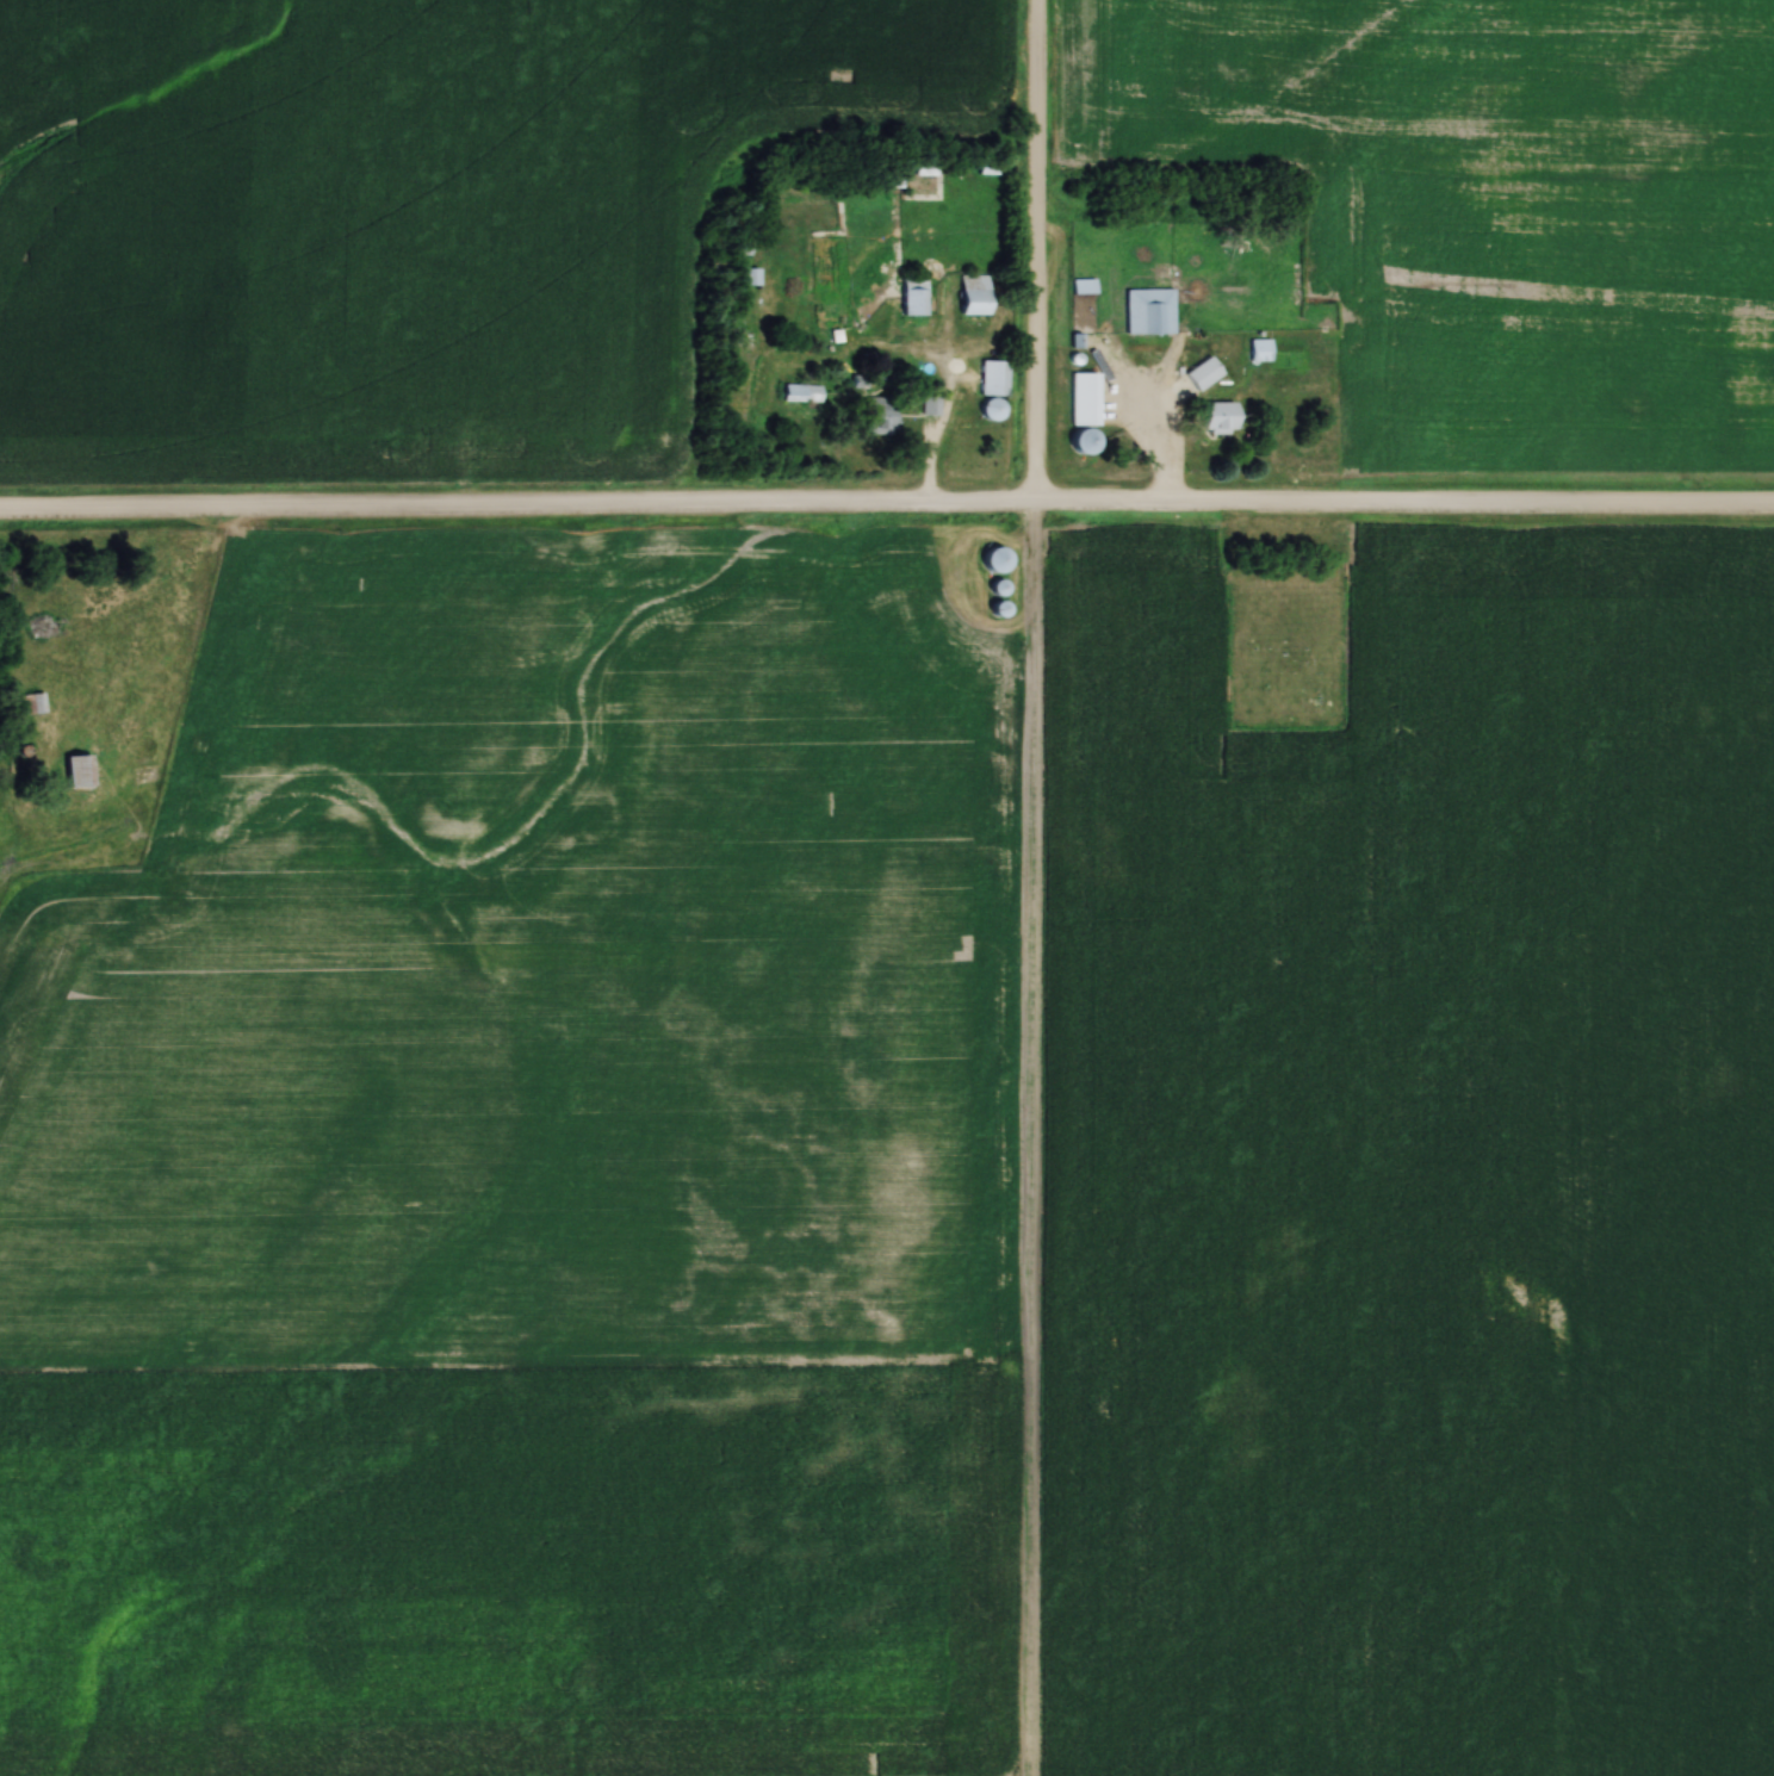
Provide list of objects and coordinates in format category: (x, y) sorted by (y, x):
building: (923, 173)
building: (1081, 287)
building: (970, 296)
building: (910, 298)
building: (1147, 312)
building: (1258, 352)
building: (1201, 375)
building: (992, 379)
building: (1081, 400)
building: (928, 406)
building: (875, 416)
road: (949, 416)
building: (1215, 418)
road: (1150, 441)
building: (1078, 443)
road: (886, 508)
building: (992, 560)
road: (173, 614)
park: (1283, 642)
building: (29, 706)
building: (120, 729)
building: (76, 775)
road: (1031, 887)

